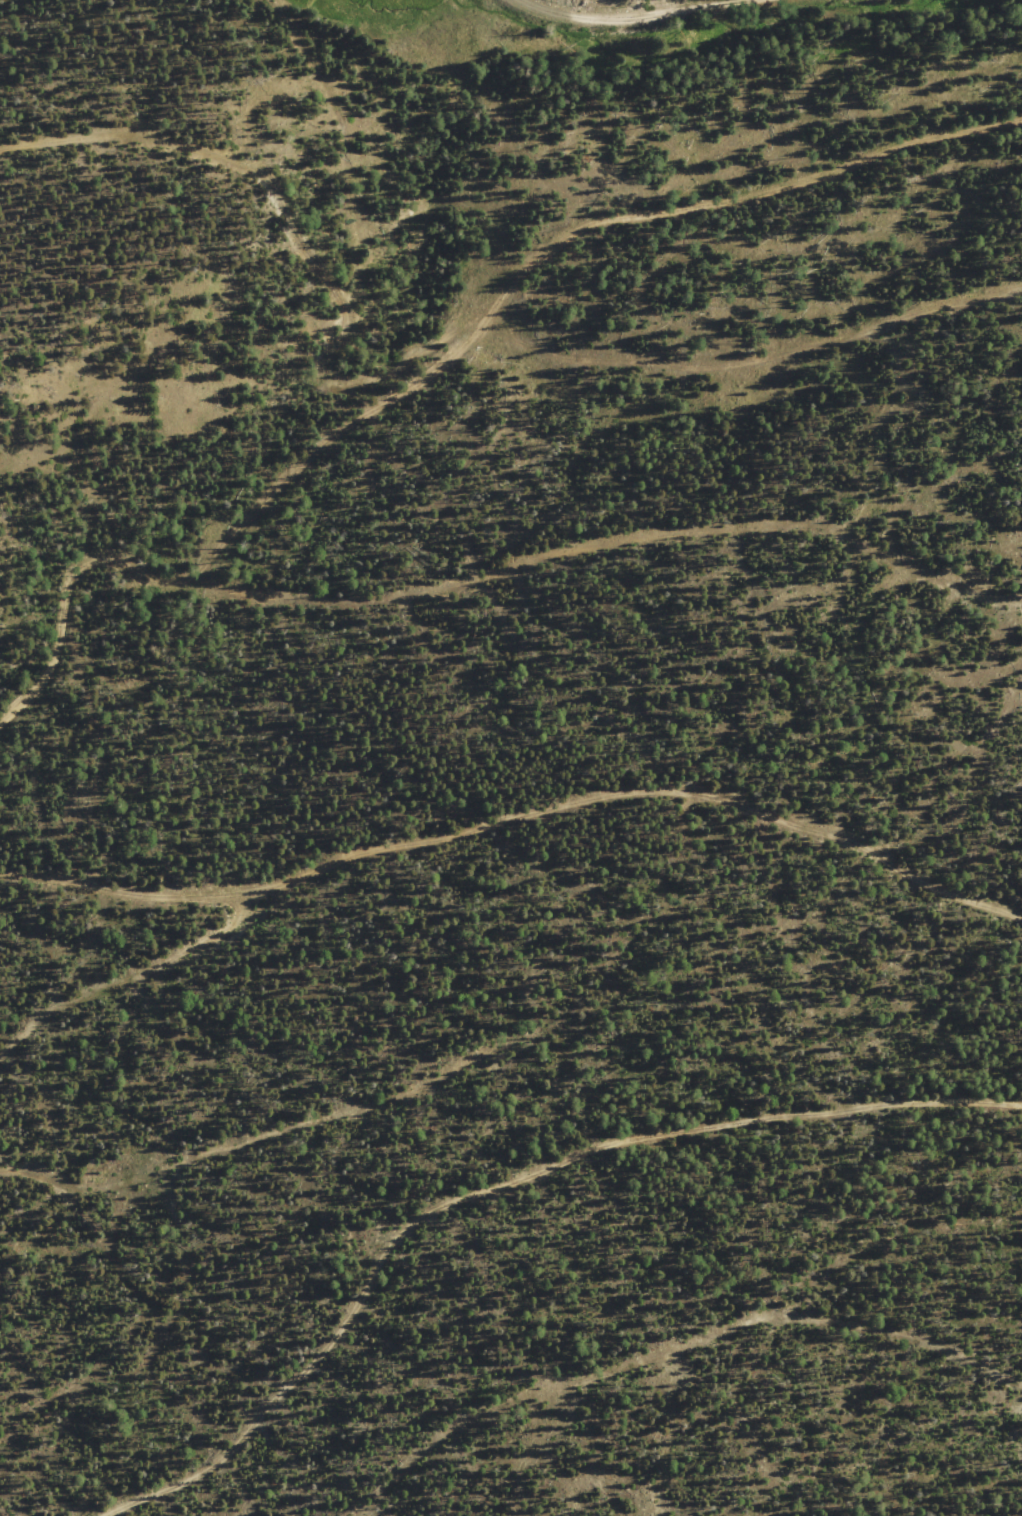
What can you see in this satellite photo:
road: (458, 405)
road: (190, 938)

